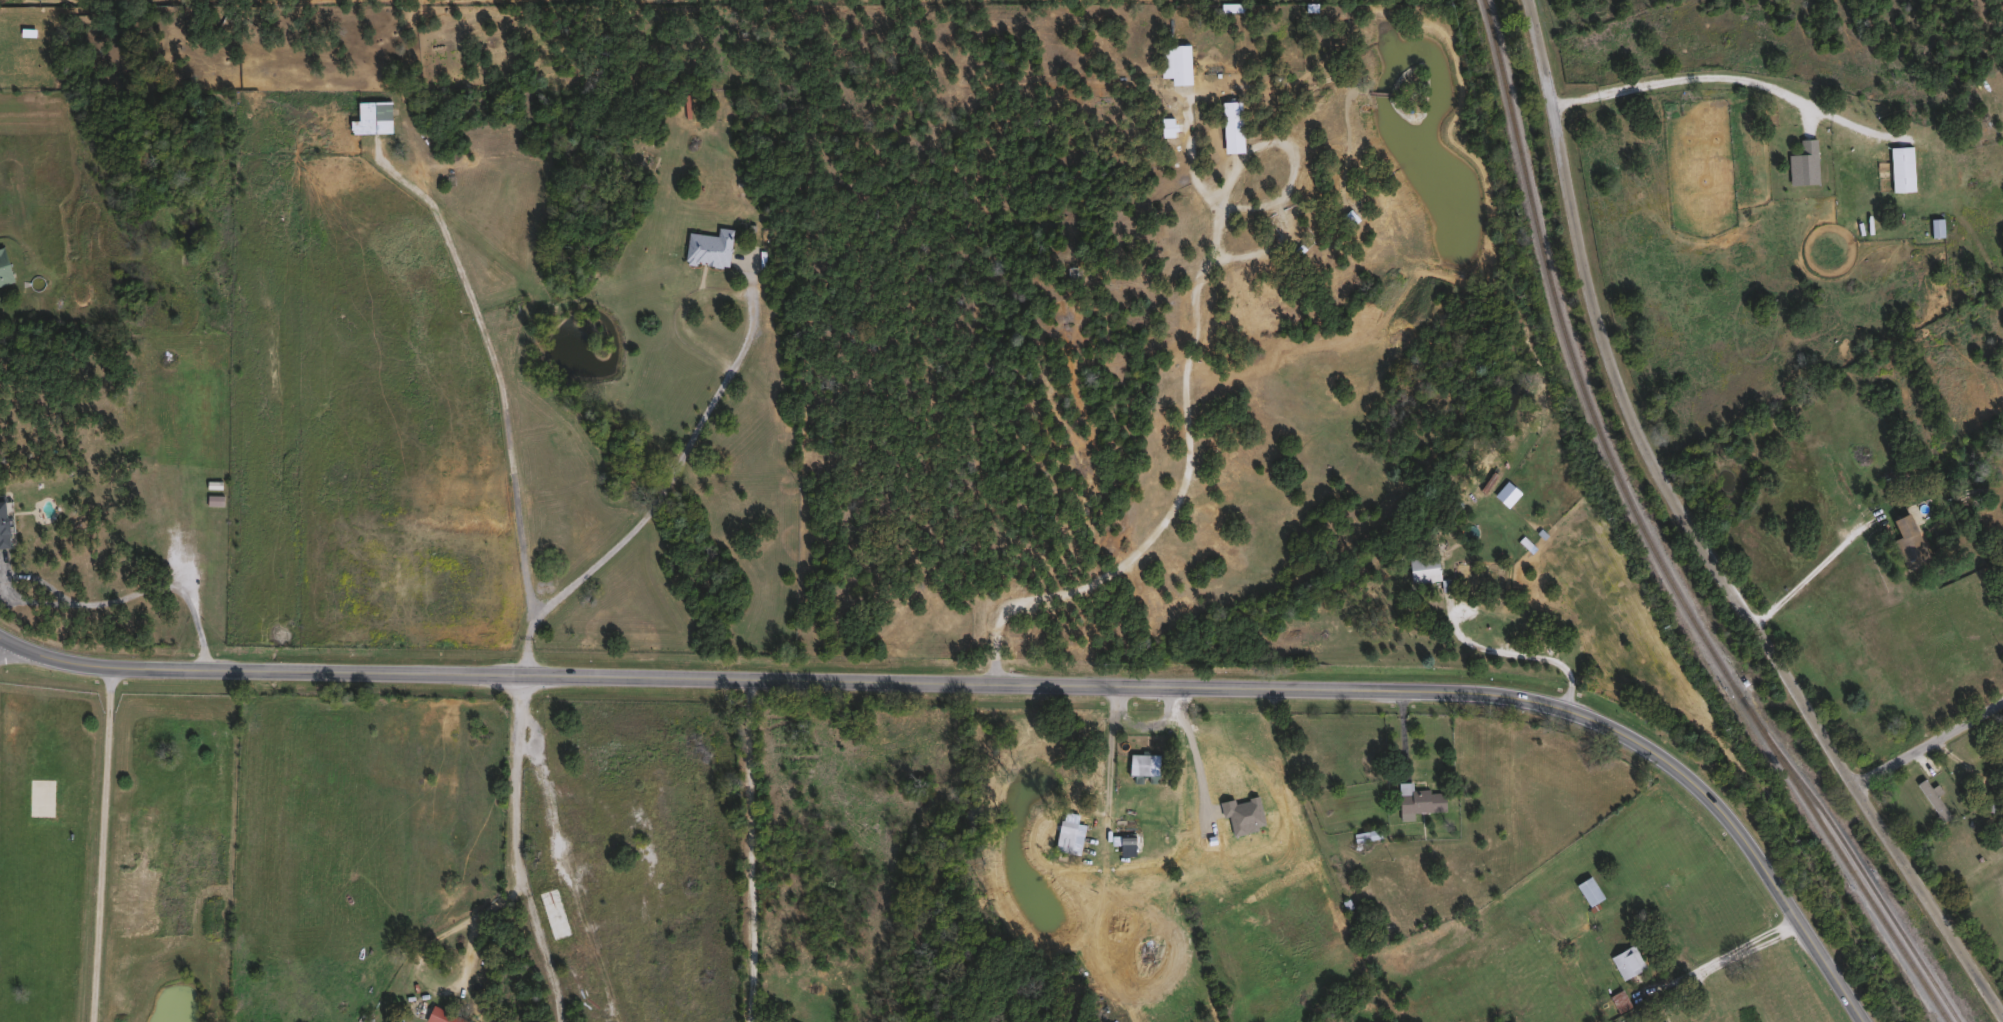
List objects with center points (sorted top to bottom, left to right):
building: (1174, 62)
road: (1701, 73)
building: (370, 117)
building: (1231, 126)
building: (1802, 163)
building: (1900, 168)
building: (1349, 217)
building: (1936, 227)
building: (708, 248)
building: (3, 270)
road: (1184, 385)
road: (662, 494)
building: (3, 520)
road: (1703, 531)
railway: (1649, 540)
building: (1907, 540)
building: (1423, 567)
road: (1818, 568)
road: (88, 604)
road: (1524, 657)
road: (14, 658)
road: (1002, 686)
road: (1932, 741)
building: (2002, 746)
building: (2002, 747)
road: (1195, 755)
building: (1142, 764)
road: (1110, 765)
building: (1933, 798)
building: (1417, 799)
building: (1366, 834)
building: (1063, 835)
road: (103, 843)
road: (521, 853)
road: (752, 853)
railway: (1861, 869)
building: (1588, 890)
road: (1720, 957)
building: (1626, 960)
road: (416, 963)
building: (1619, 1000)
building: (441, 1016)
building: (1630, 1021)
building: (1663, 1021)
building: (1664, 1021)

